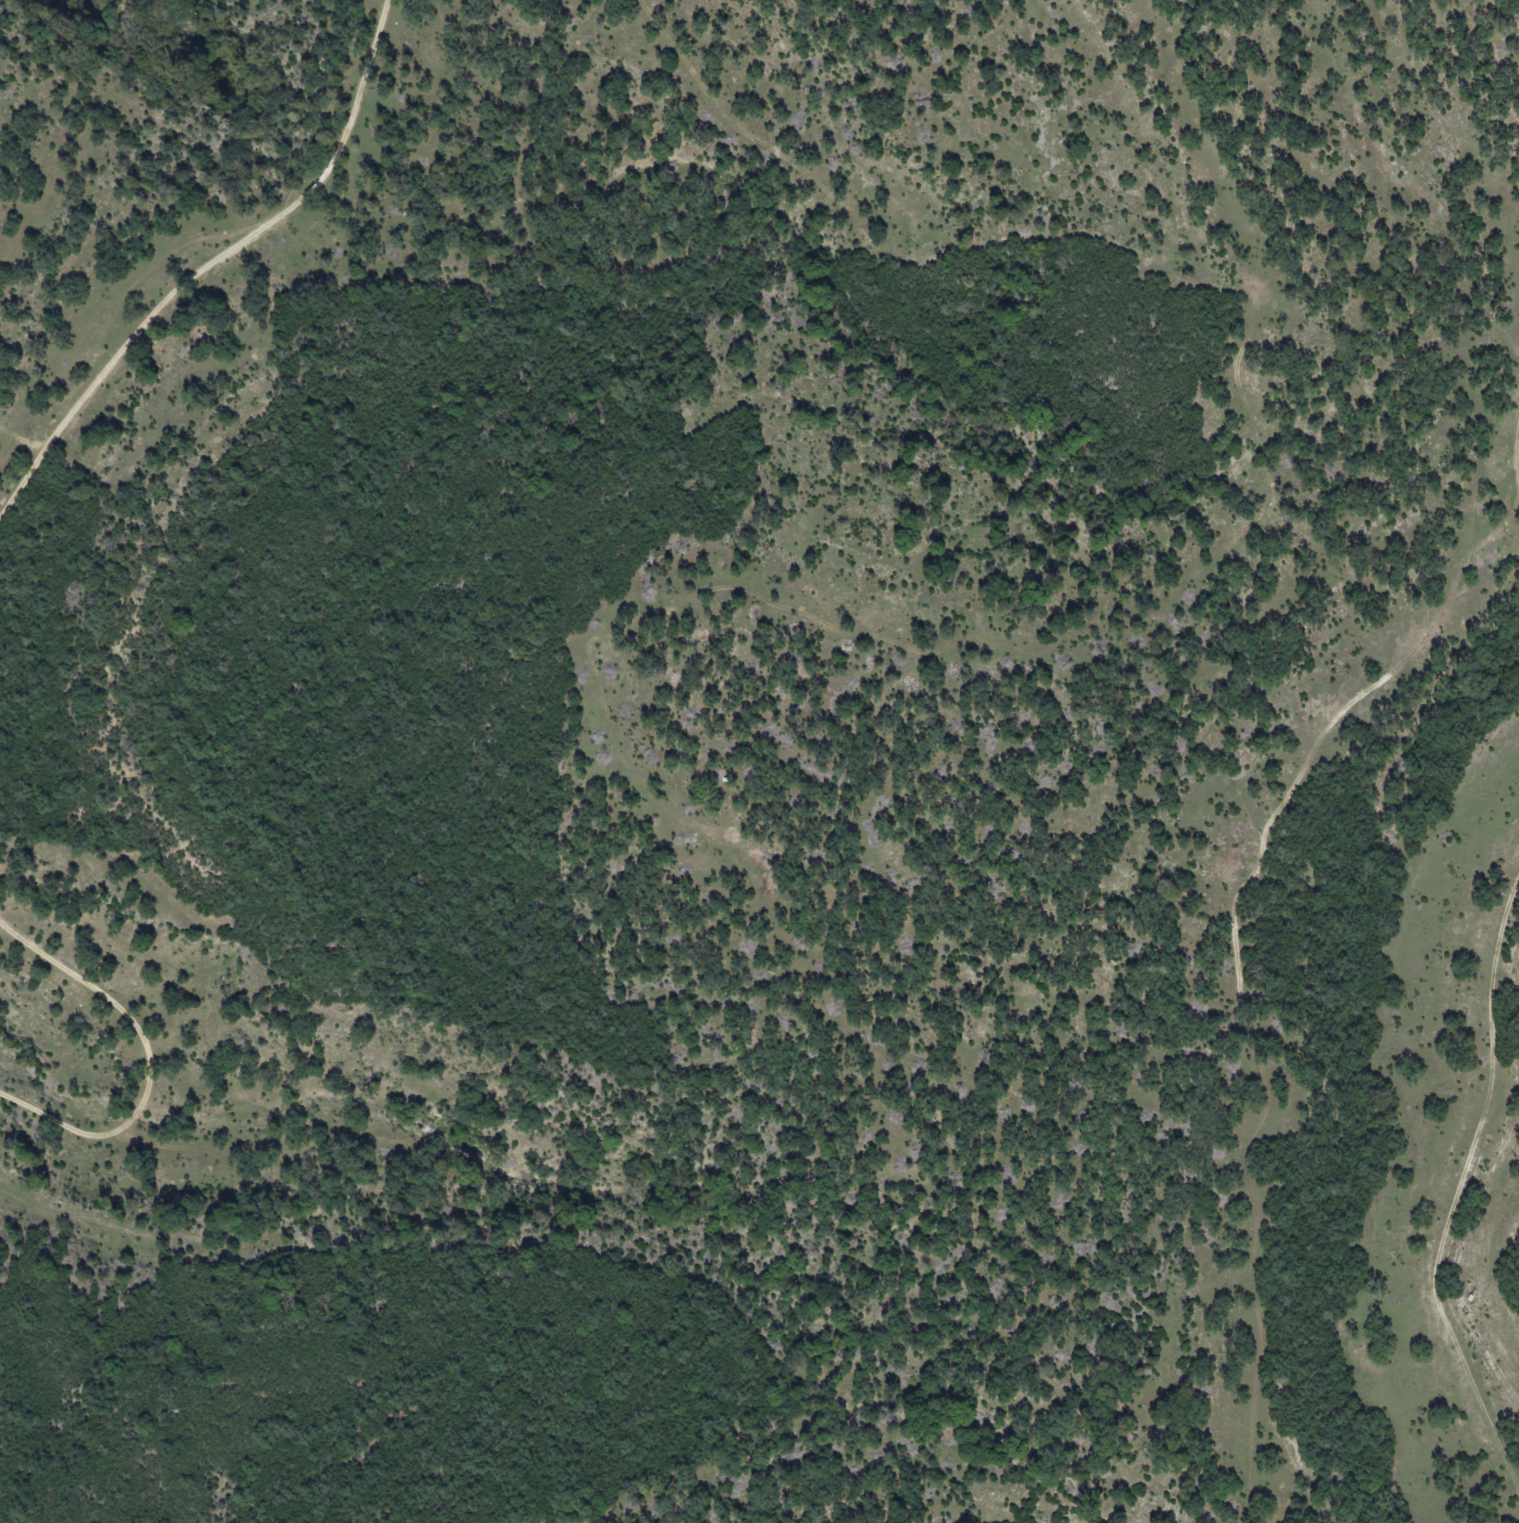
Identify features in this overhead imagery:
road: (1462, 1203)

